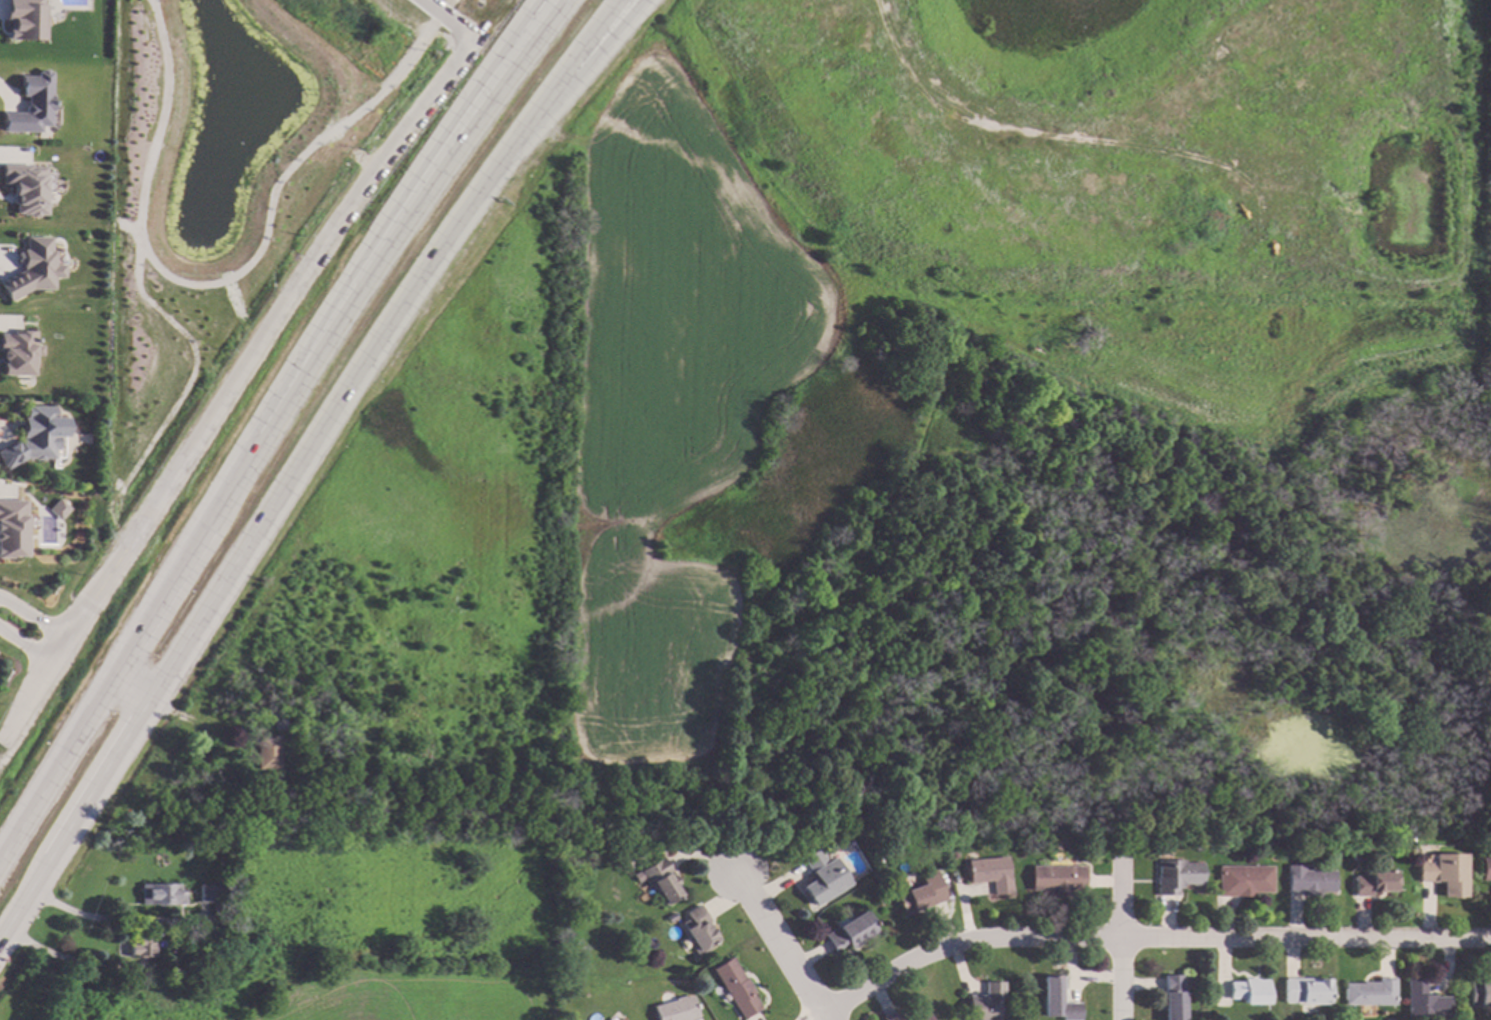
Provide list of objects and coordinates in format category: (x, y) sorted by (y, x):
road: (447, 2)
road: (535, 10)
road: (536, 10)
road: (439, 13)
road: (445, 18)
building: (24, 20)
building: (29, 105)
building: (24, 189)
building: (31, 269)
road: (219, 282)
building: (17, 352)
road: (228, 388)
crop: (669, 408)
road: (260, 432)
building: (32, 437)
road: (299, 454)
building: (57, 510)
building: (11, 528)
road: (34, 616)
road: (26, 645)
road: (128, 685)
building: (298, 718)
building: (279, 721)
building: (265, 752)
building: (327, 791)
building: (1218, 843)
building: (1197, 847)
building: (216, 848)
building: (953, 852)
building: (1355, 855)
building: (1485, 868)
building: (990, 873)
building: (1443, 873)
building: (1175, 875)
building: (822, 876)
building: (1056, 879)
building: (657, 880)
building: (1242, 880)
building: (1307, 880)
building: (1373, 882)
building: (209, 892)
building: (160, 894)
building: (919, 897)
road: (81, 917)
building: (697, 929)
building: (849, 932)
road: (1145, 936)
crop: (353, 937)
building: (140, 946)
road: (781, 946)
road: (1113, 950)
road: (48, 955)
building: (735, 987)
building: (1248, 990)
building: (1304, 990)
building: (1369, 992)
building: (1479, 993)
building: (1172, 997)
building: (1055, 1000)
building: (984, 1002)
building: (1423, 1002)
building: (675, 1009)
building: (1007, 1015)
building: (891, 1016)
building: (919, 1016)
building: (619, 1019)

